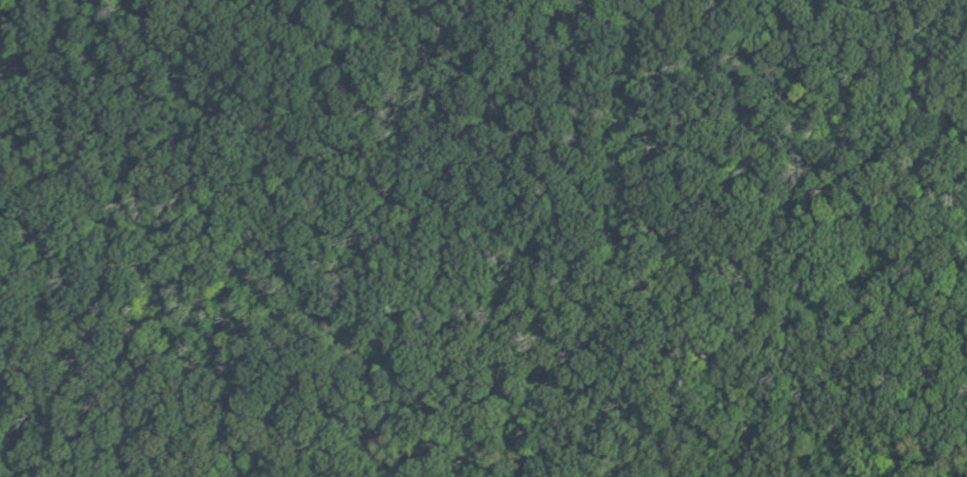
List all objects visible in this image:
road: (92, 59)
park: (483, 238)

